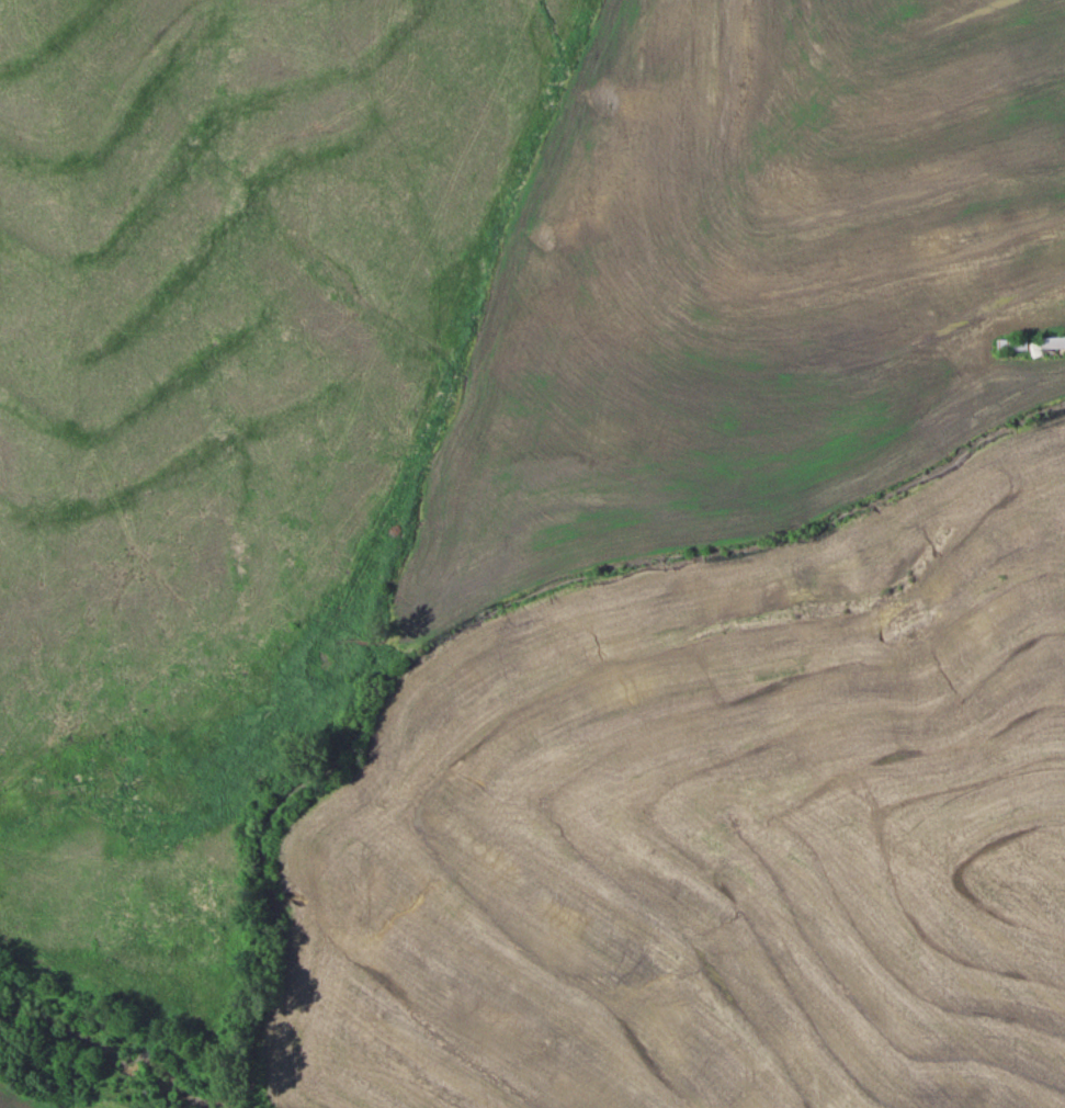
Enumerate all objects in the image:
building: (1054, 342)
building: (1015, 344)

